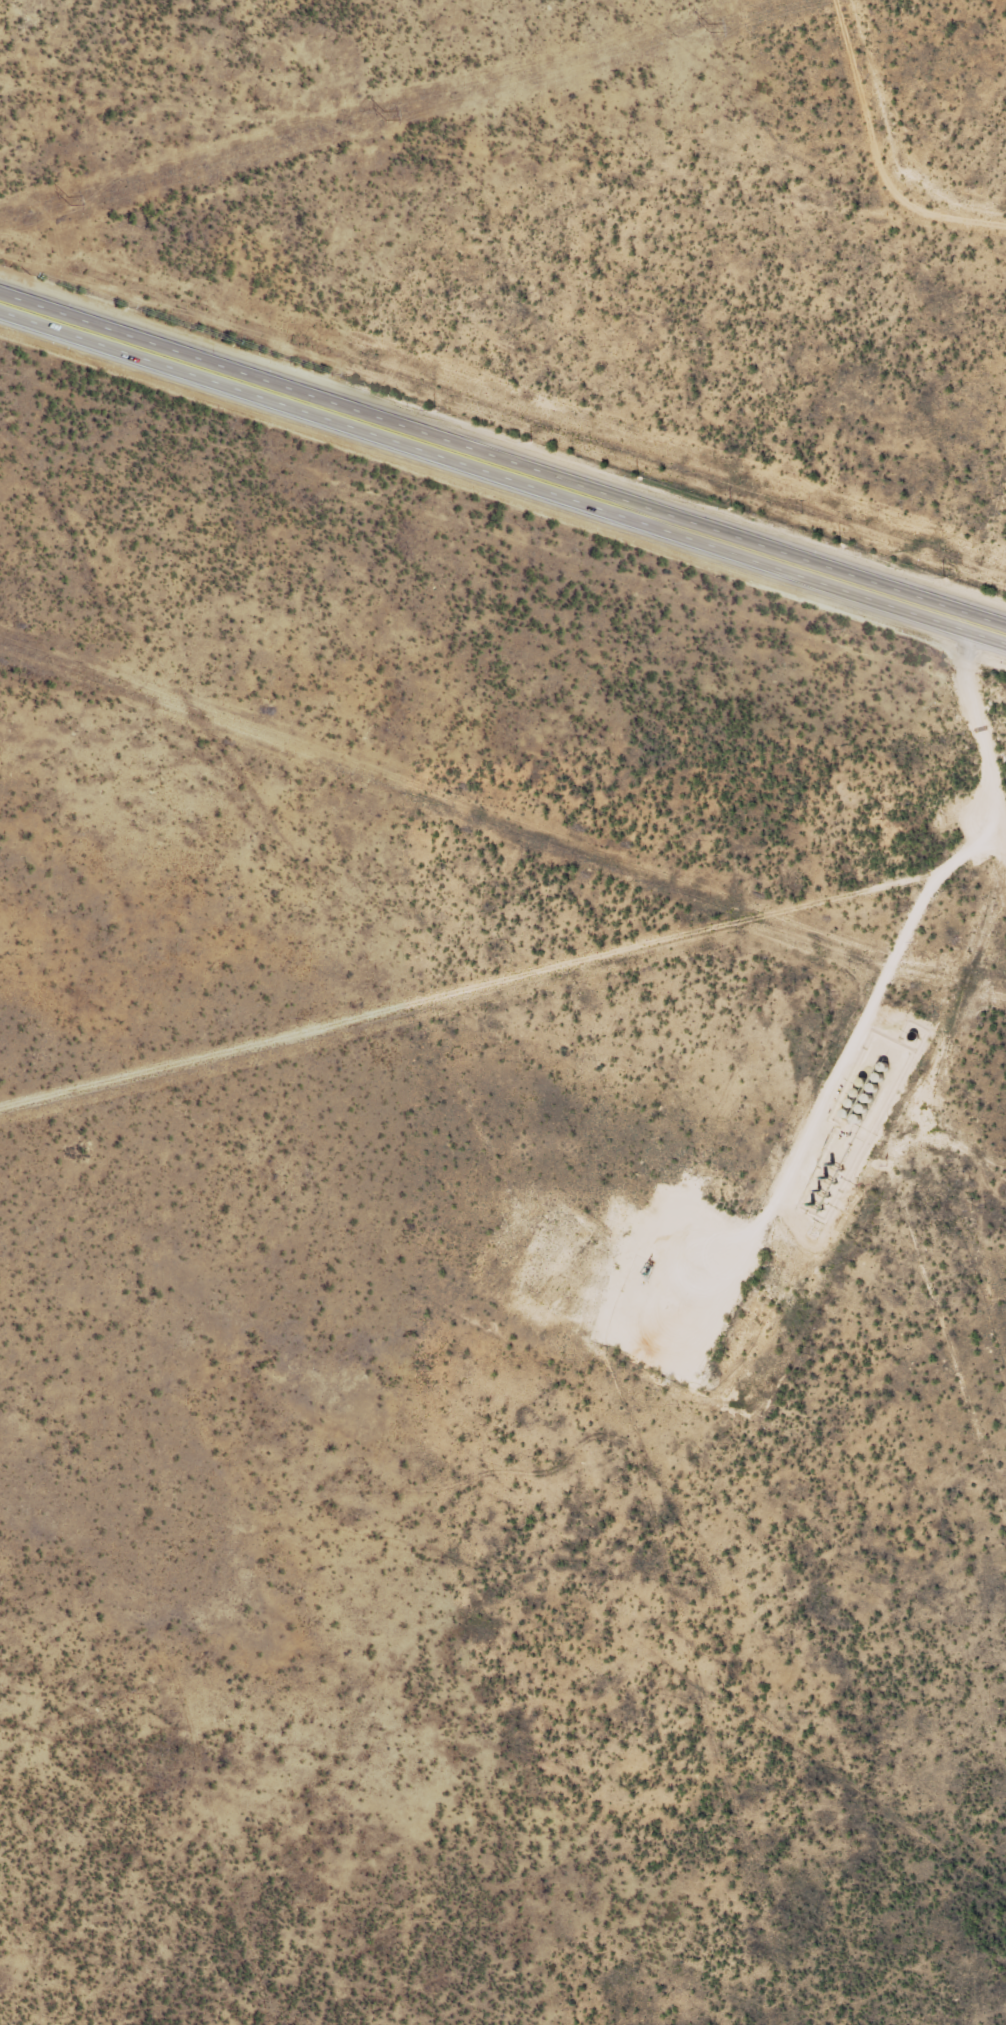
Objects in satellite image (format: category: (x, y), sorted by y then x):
power tower: (709, 29)
power tower: (385, 112)
power tower: (67, 200)
road: (502, 461)
road: (981, 641)
road: (503, 1000)

